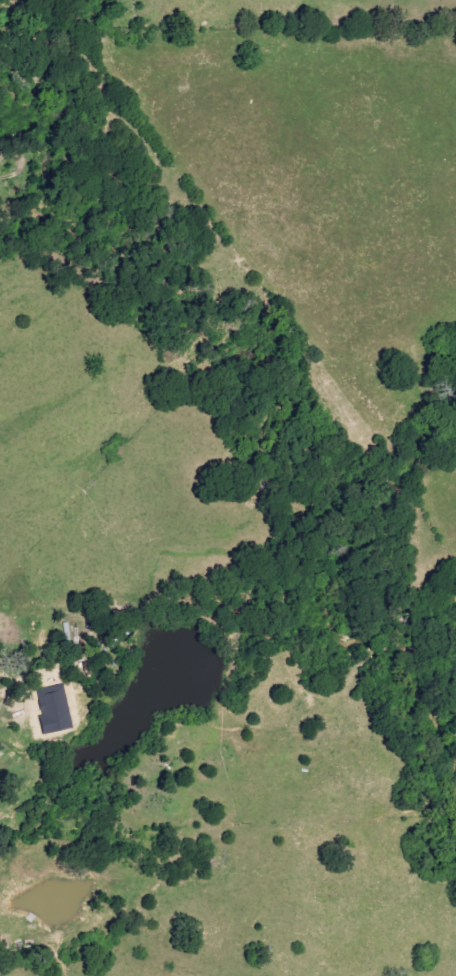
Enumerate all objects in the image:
road: (31, 675)

